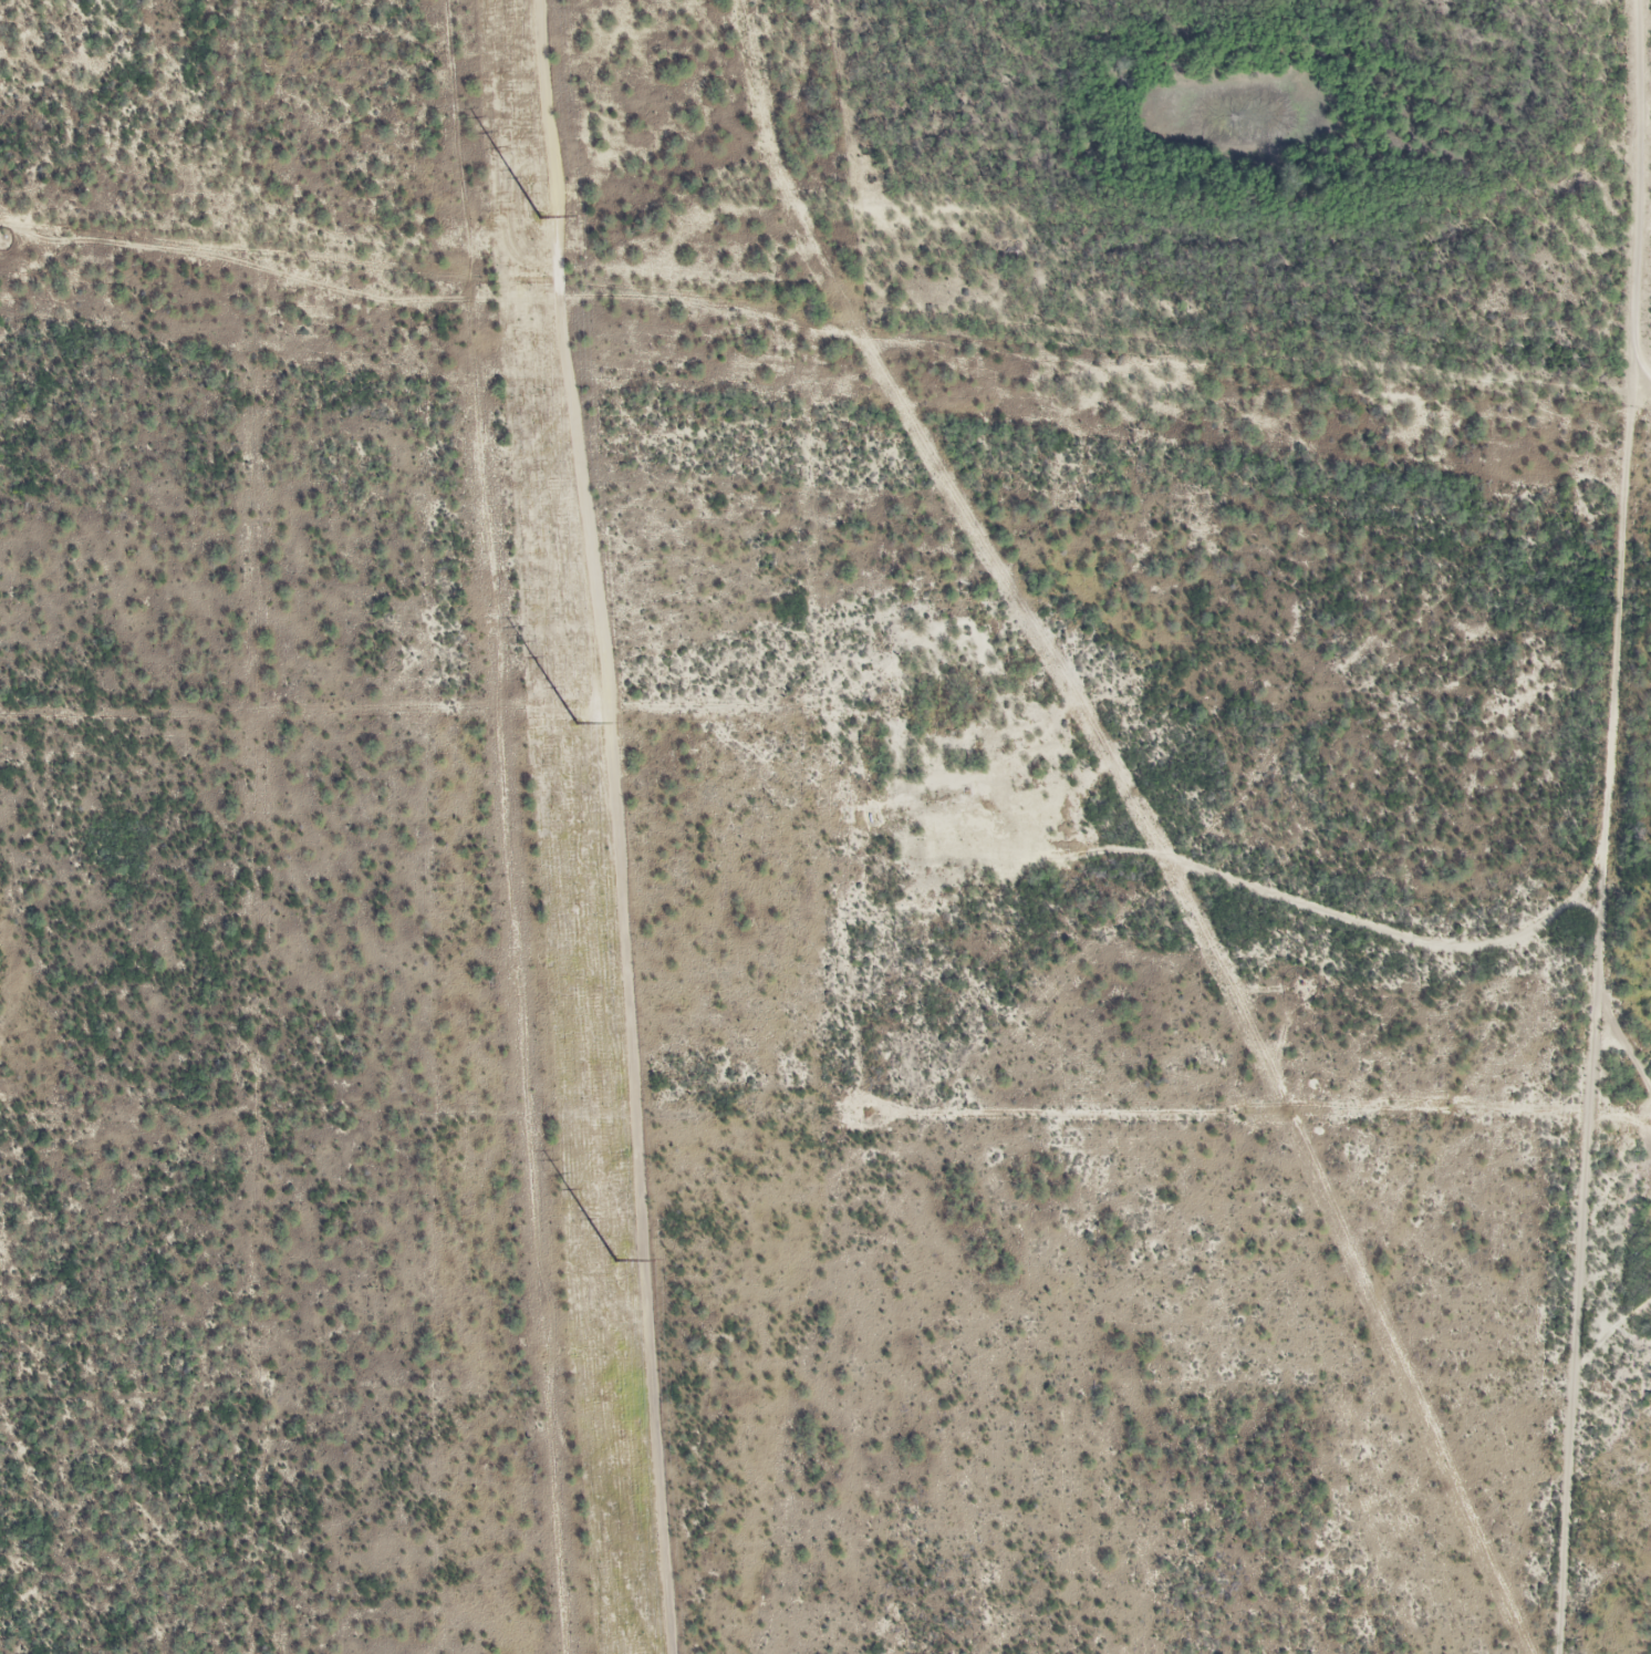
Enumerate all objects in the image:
power tower: (539, 217)
power tower: (460, 241)
road: (825, 307)
power tower: (491, 622)
power tower: (575, 723)
road: (1587, 827)
power tower: (515, 973)
power tower: (615, 1261)
power tower: (542, 1355)

